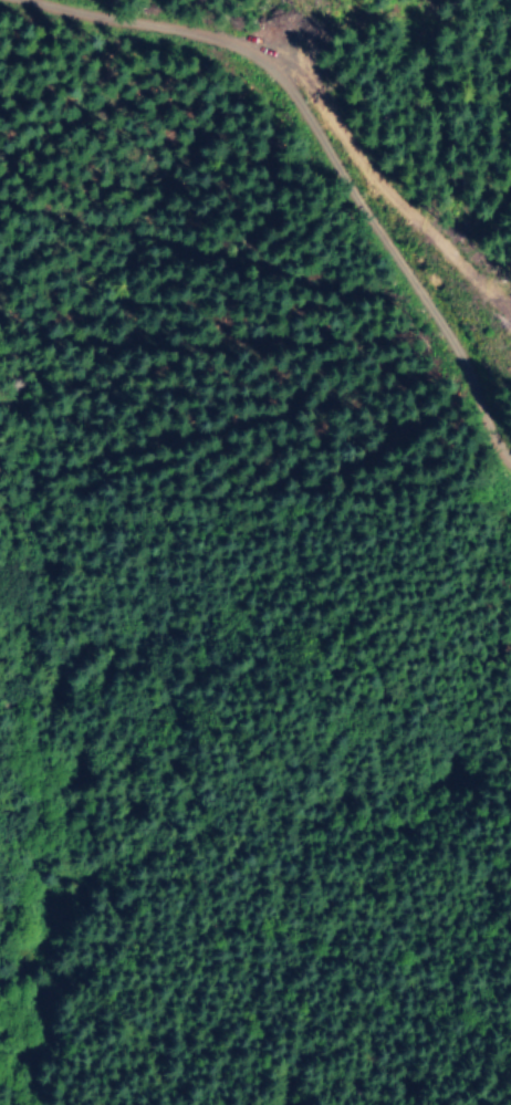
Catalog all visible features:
road: (447, 13)

